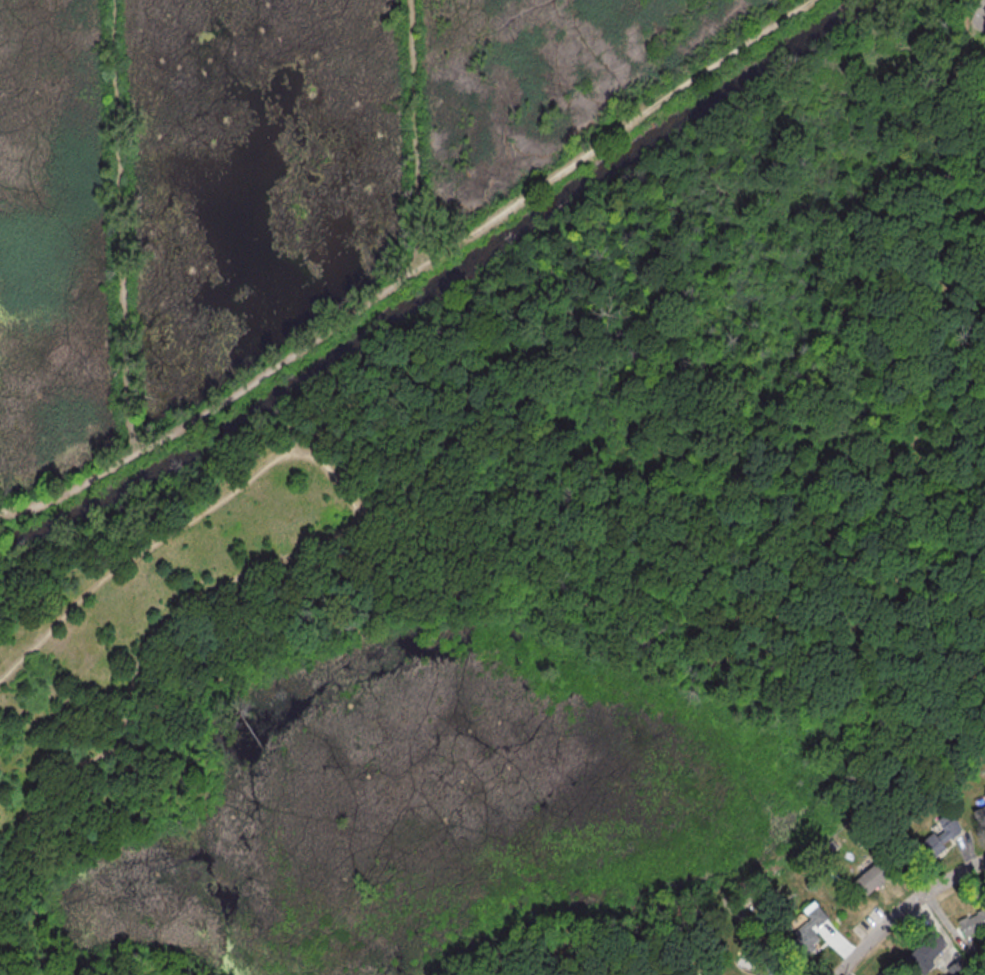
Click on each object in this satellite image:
road: (980, 15)
road: (416, 133)
road: (584, 210)
road: (122, 227)
road: (414, 271)
road: (952, 286)
road: (979, 298)
road: (326, 433)
park: (475, 471)
road: (335, 536)
road: (898, 586)
road: (935, 616)
building: (981, 816)
building: (937, 839)
building: (871, 878)
road: (904, 908)
building: (973, 922)
building: (808, 928)
road: (35, 950)
building: (926, 952)
building: (773, 968)
building: (885, 971)

